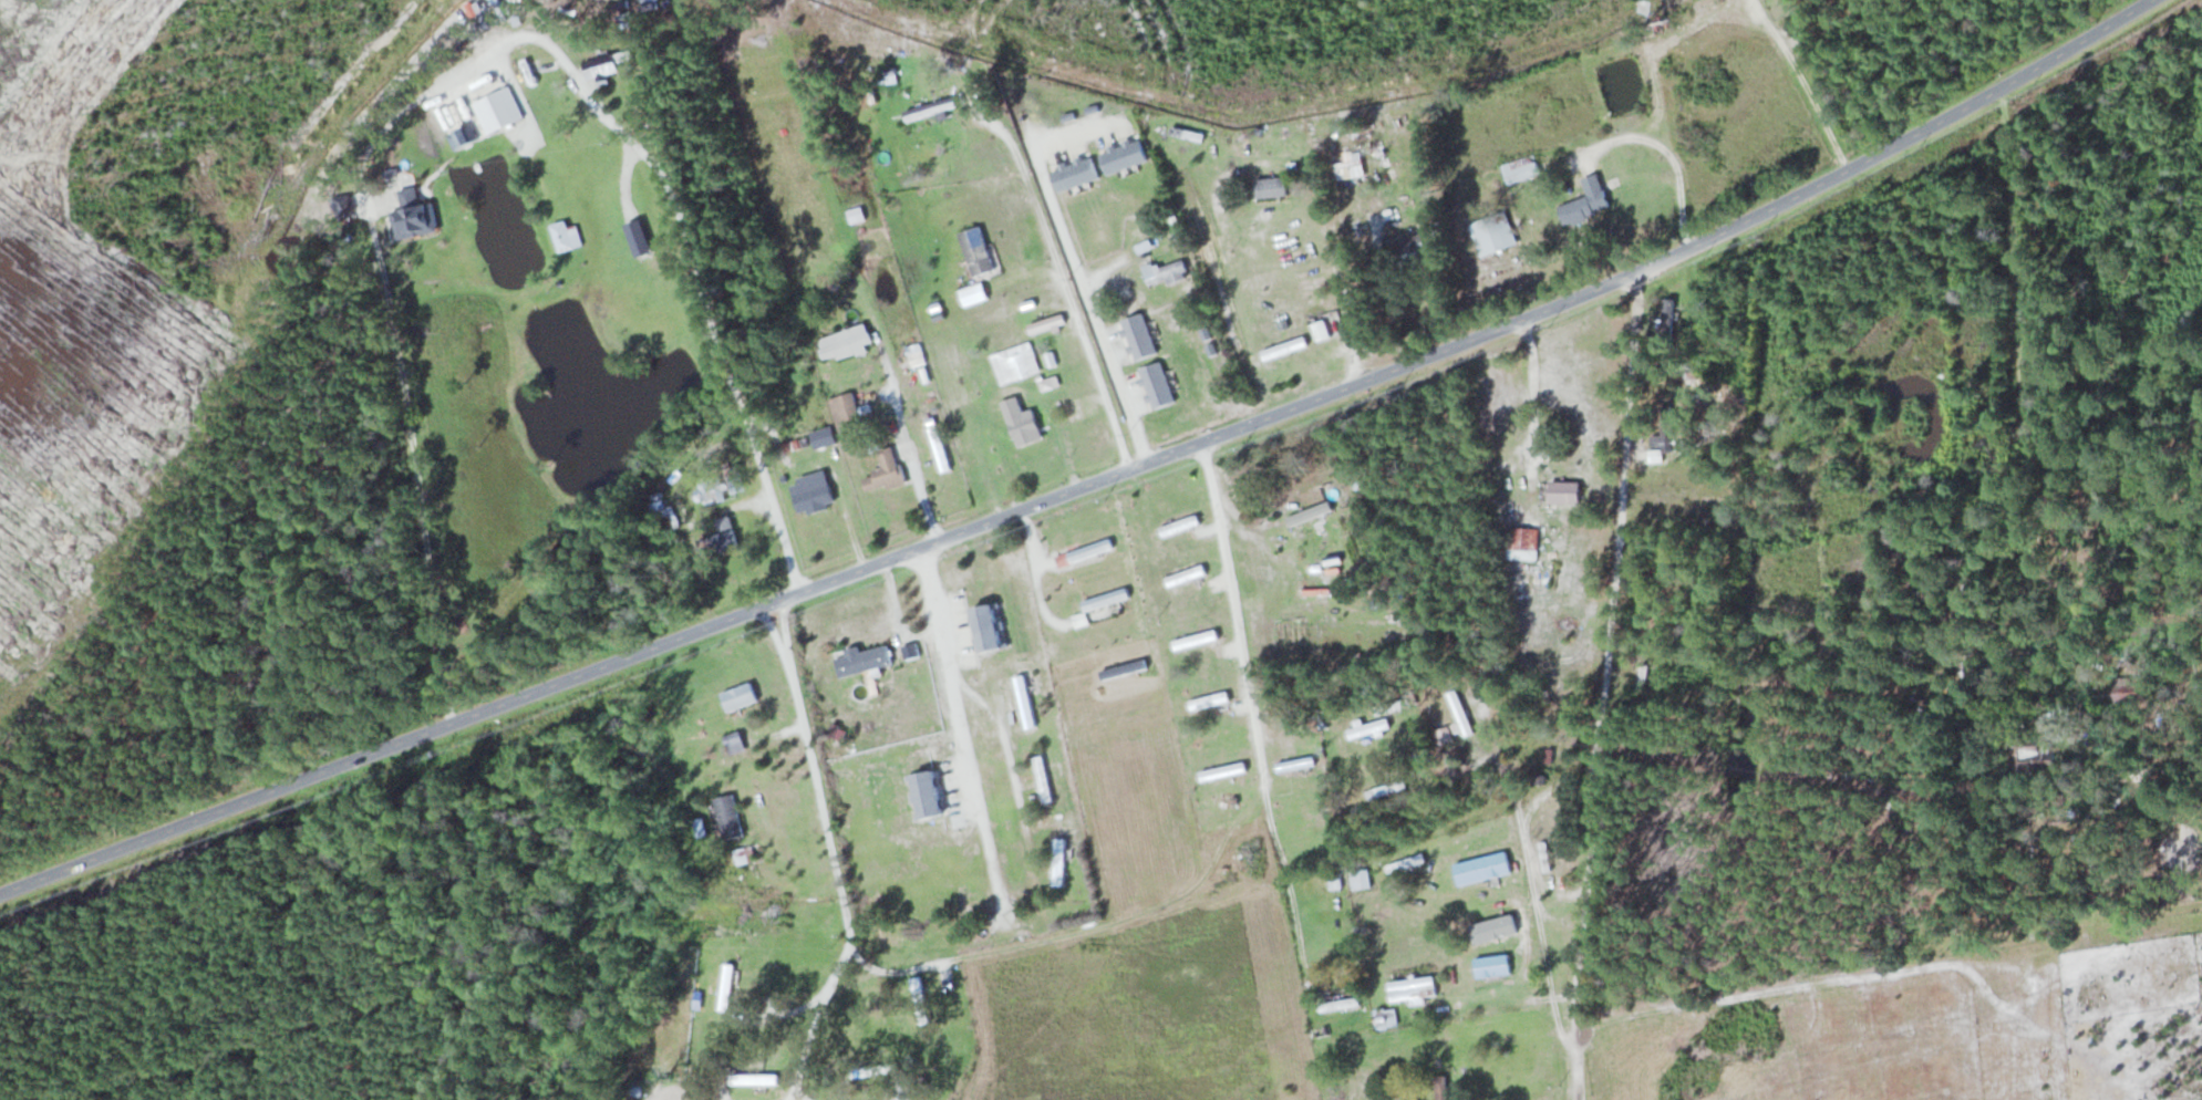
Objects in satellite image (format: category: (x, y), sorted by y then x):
building: (1661, 25)
building: (610, 63)
building: (927, 108)
building: (497, 110)
crop: (1513, 121)
road: (372, 141)
crop: (782, 143)
building: (1521, 168)
building: (1270, 186)
building: (1585, 201)
building: (413, 215)
road: (684, 229)
building: (1493, 232)
building: (566, 235)
building: (1412, 249)
building: (976, 250)
building: (1166, 272)
road: (1024, 274)
road: (1063, 280)
building: (1668, 318)
crop: (991, 326)
building: (1138, 336)
building: (845, 343)
building: (916, 354)
building: (1015, 363)
crop: (951, 366)
building: (921, 384)
building: (1156, 385)
road: (1002, 393)
building: (1073, 409)
building: (846, 412)
building: (1021, 423)
building: (823, 437)
building: (1662, 439)
crop: (480, 455)
road: (414, 464)
building: (885, 470)
road: (1086, 486)
building: (1563, 491)
building: (707, 492)
building: (811, 492)
road: (846, 502)
road: (728, 508)
building: (1179, 525)
building: (720, 537)
building: (1895, 540)
building: (1522, 542)
building: (1087, 550)
road: (1043, 561)
building: (1185, 574)
road: (1035, 577)
building: (1106, 599)
road: (1234, 610)
road: (898, 616)
building: (985, 627)
parking lot: (952, 630)
road: (773, 632)
building: (1195, 640)
building: (864, 660)
road: (951, 676)
building: (1644, 676)
road: (1604, 684)
building: (2132, 692)
building: (738, 696)
building: (1024, 701)
building: (1209, 701)
building: (1460, 712)
building: (1368, 728)
building: (1444, 735)
building: (733, 741)
road: (1005, 748)
building: (2027, 754)
building: (1295, 764)
road: (813, 770)
building: (1386, 788)
building: (923, 795)
building: (1547, 806)
building: (727, 816)
building: (700, 827)
road: (772, 841)
building: (743, 854)
building: (1058, 861)
building: (1405, 863)
building: (1482, 866)
road: (1033, 870)
building: (1361, 879)
crop: (738, 911)
crop: (1139, 936)
building: (1492, 965)
road: (890, 972)
building: (725, 986)
building: (696, 998)
building: (919, 999)
building: (1340, 1003)
road: (783, 1011)
building: (1386, 1018)
road: (815, 1024)
building: (872, 1069)
building: (754, 1078)
building: (637, 1088)
road: (800, 1093)
crop: (664, 1096)
road: (898, 1099)

